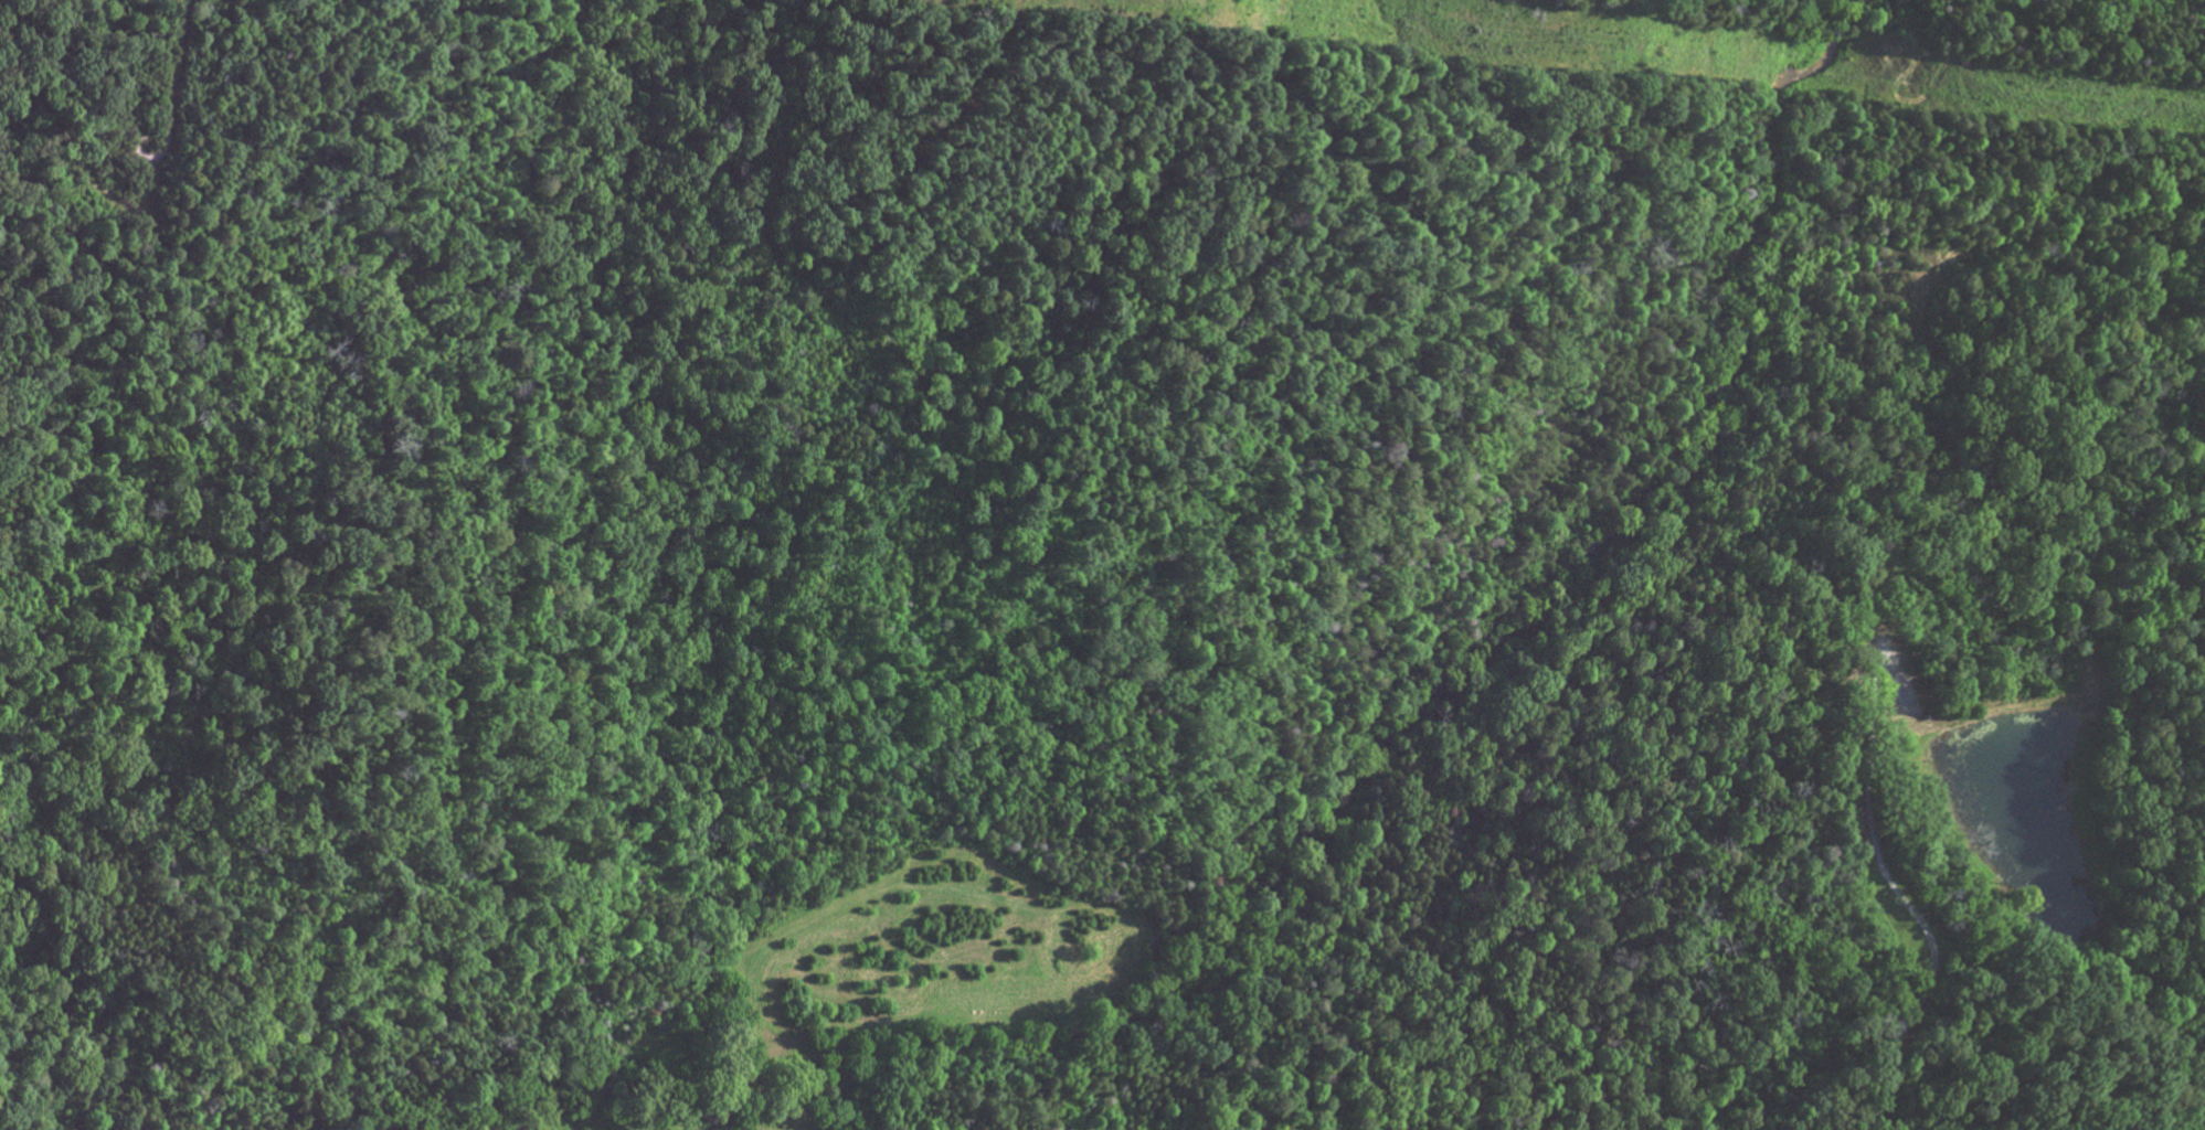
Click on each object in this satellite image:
power tower: (1561, 38)

